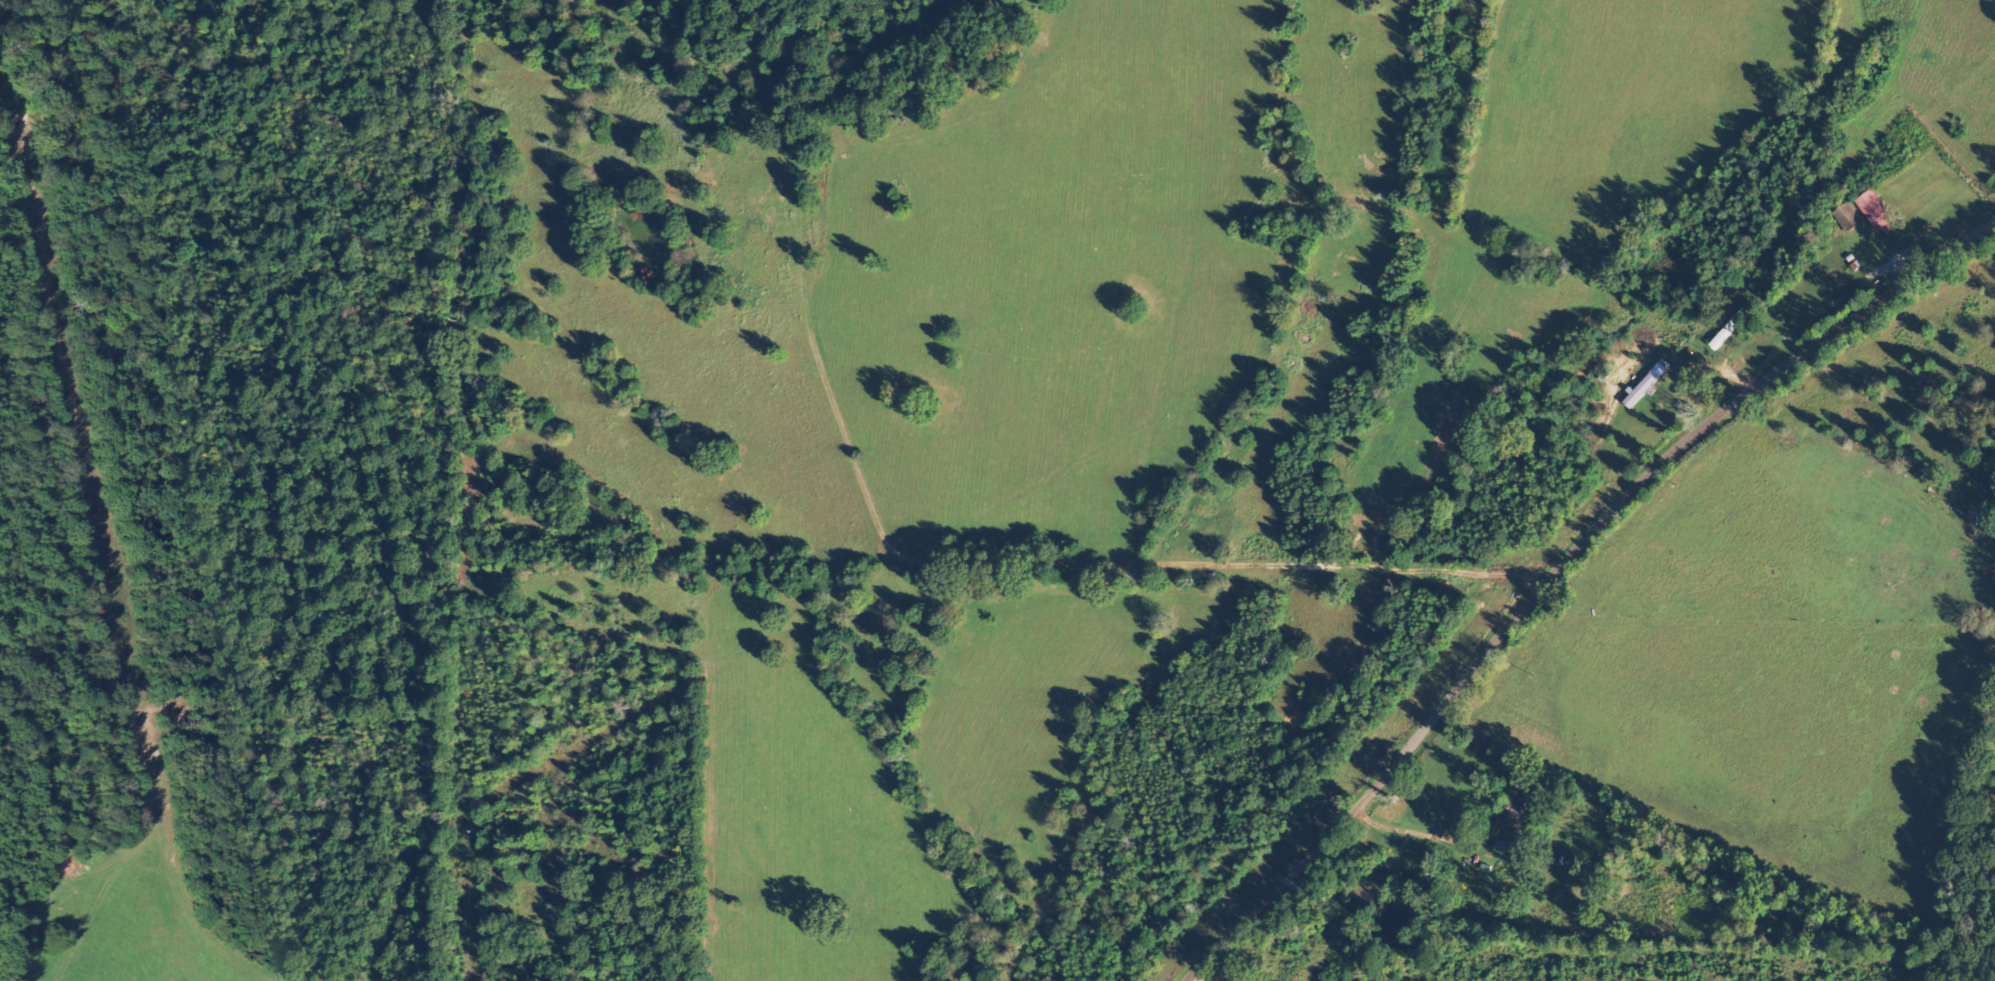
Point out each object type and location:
building: (1878, 212)
building: (1850, 217)
building: (1647, 385)
road: (1568, 554)
road: (725, 719)
building: (1511, 815)

